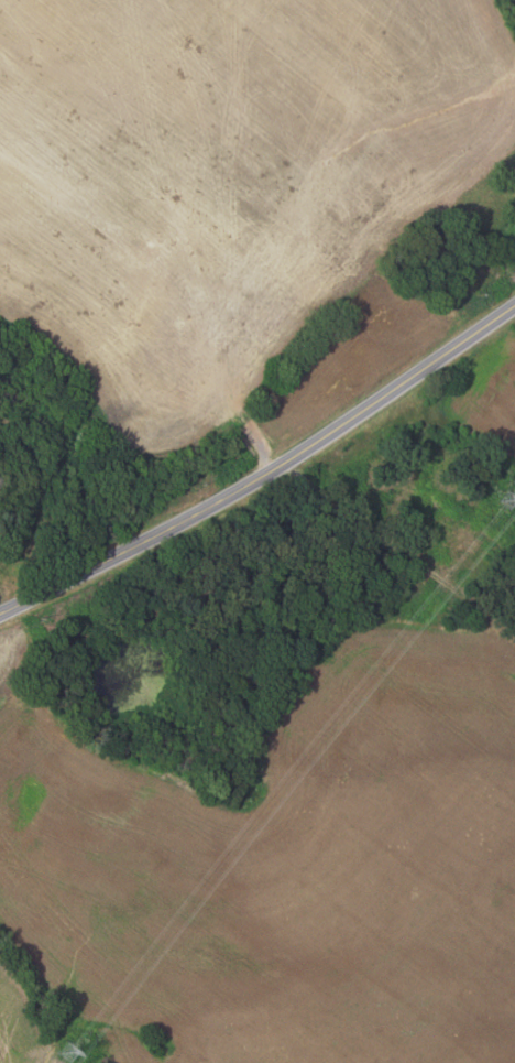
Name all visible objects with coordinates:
crop: (234, 192)
crop: (485, 395)
road: (265, 471)
power tower: (511, 501)
road: (392, 558)
crop: (285, 867)
crop: (23, 1023)
power tower: (73, 1052)

